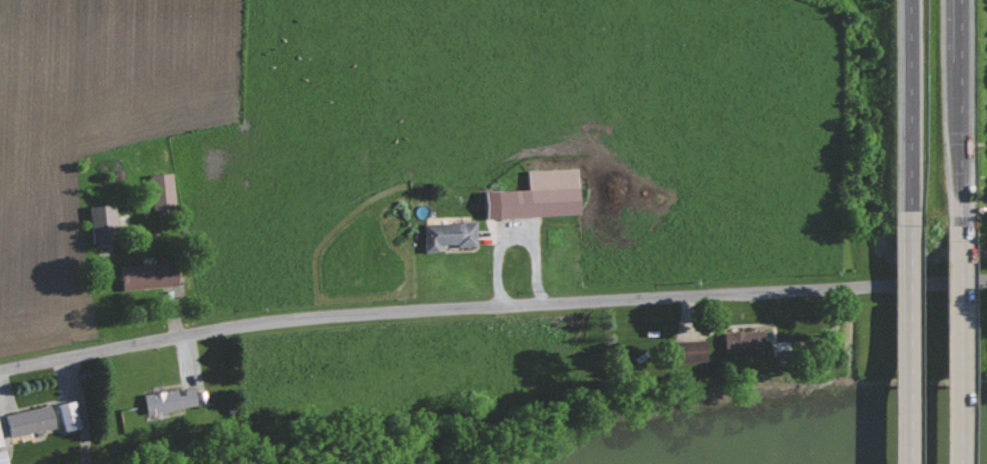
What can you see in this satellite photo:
road: (910, 112)
road: (964, 112)
building: (161, 191)
building: (536, 195)
building: (102, 223)
building: (447, 234)
building: (148, 275)
road: (491, 303)
building: (742, 341)
road: (910, 344)
road: (960, 344)
building: (689, 350)
building: (169, 399)
building: (68, 415)
building: (29, 420)
building: (0, 440)
building: (2, 457)

